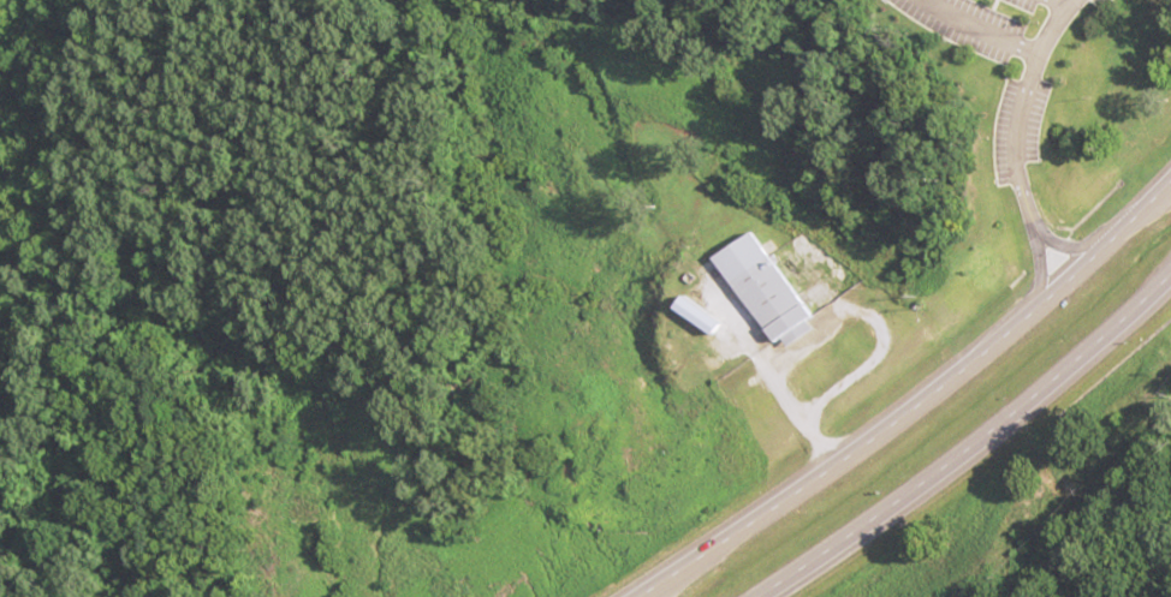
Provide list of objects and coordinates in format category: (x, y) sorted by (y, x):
road: (1015, 139)
building: (767, 289)
road: (910, 395)
road: (974, 447)

